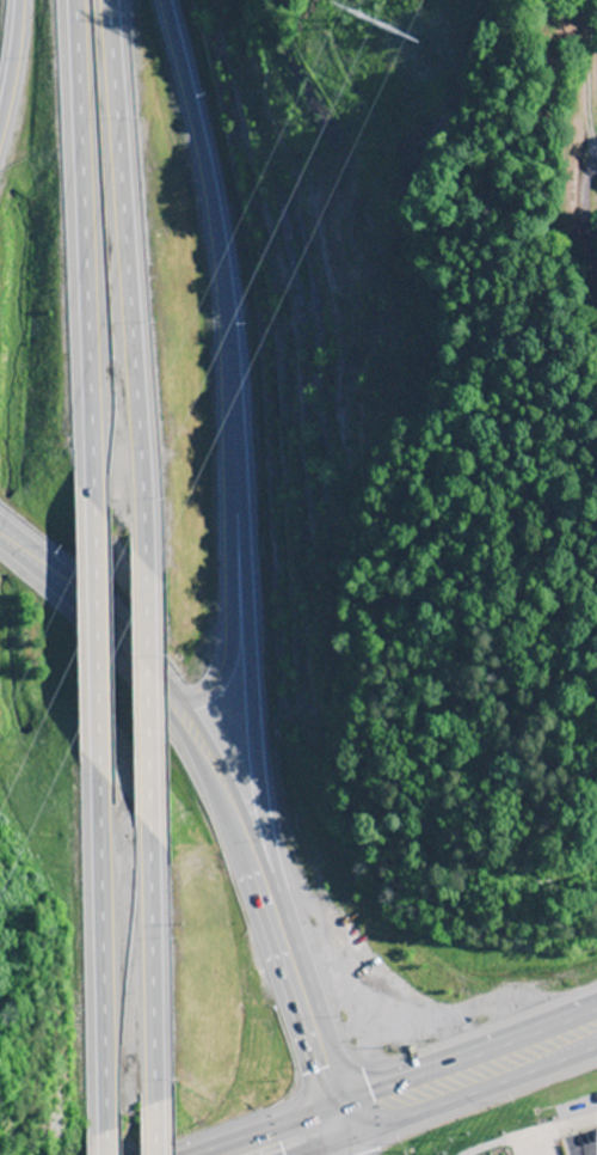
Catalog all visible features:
road: (12, 63)
road: (81, 249)
road: (118, 286)
road: (238, 482)
road: (230, 617)
road: (94, 622)
road: (143, 684)
road: (223, 797)
building: (352, 941)
road: (99, 943)
road: (148, 960)
road: (470, 1084)
road: (150, 1141)
road: (300, 1141)
road: (341, 1141)
road: (103, 1149)

